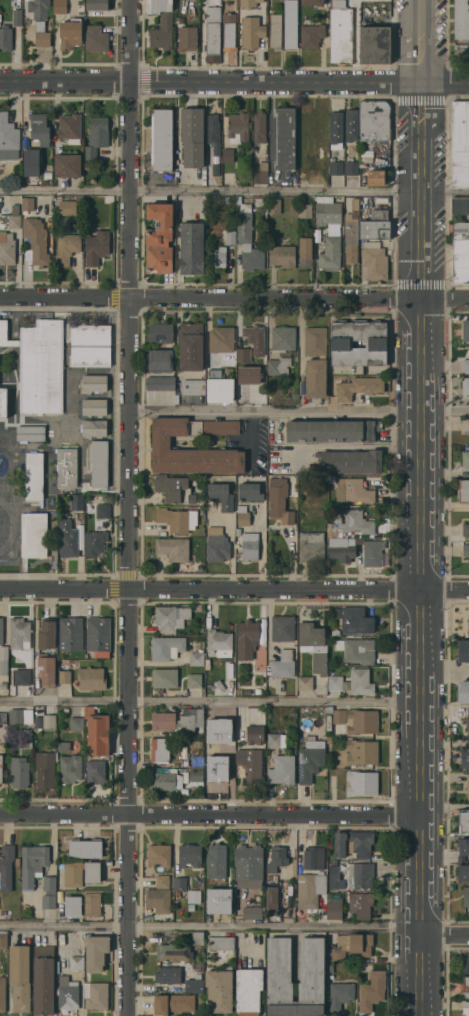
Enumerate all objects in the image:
building: (312, 2)
building: (249, 3)
building: (98, 4)
building: (60, 6)
building: (39, 9)
building: (17, 16)
building: (0, 17)
building: (461, 19)
building: (161, 23)
building: (291, 24)
building: (275, 30)
building: (230, 31)
building: (252, 31)
building: (341, 32)
building: (70, 33)
building: (213, 34)
building: (312, 35)
building: (6, 37)
building: (42, 38)
building: (96, 38)
building: (188, 38)
building: (376, 44)
building: (461, 52)
road: (234, 80)
building: (375, 120)
building: (352, 124)
building: (39, 125)
building: (260, 126)
building: (70, 127)
building: (238, 127)
building: (336, 130)
building: (7, 135)
building: (97, 135)
building: (193, 135)
road: (270, 135)
building: (285, 138)
building: (162, 139)
building: (215, 140)
building: (460, 143)
building: (228, 155)
building: (31, 161)
building: (68, 165)
building: (87, 165)
building: (337, 167)
building: (352, 167)
building: (261, 172)
building: (48, 174)
building: (376, 177)
building: (93, 180)
road: (300, 190)
road: (65, 191)
building: (261, 201)
building: (27, 204)
building: (460, 205)
building: (275, 206)
building: (68, 207)
building: (306, 210)
building: (11, 218)
building: (376, 225)
building: (160, 226)
building: (461, 230)
building: (329, 231)
building: (352, 232)
building: (248, 239)
building: (36, 241)
building: (67, 247)
building: (97, 247)
building: (192, 247)
building: (7, 248)
building: (306, 252)
building: (283, 255)
building: (216, 257)
building: (159, 260)
building: (374, 261)
building: (460, 261)
road: (234, 302)
building: (465, 330)
building: (3, 331)
road: (301, 331)
building: (161, 332)
building: (222, 338)
building: (255, 338)
building: (283, 338)
building: (13, 342)
building: (342, 343)
building: (90, 344)
building: (191, 346)
building: (244, 354)
building: (160, 360)
building: (315, 362)
building: (465, 364)
building: (279, 365)
building: (41, 366)
building: (248, 375)
building: (95, 382)
building: (161, 383)
building: (465, 385)
building: (194, 386)
building: (359, 386)
building: (219, 387)
building: (3, 401)
building: (95, 406)
road: (299, 412)
building: (465, 424)
building: (94, 427)
building: (331, 431)
building: (31, 432)
road: (252, 436)
building: (162, 441)
road: (360, 447)
building: (466, 458)
building: (351, 461)
building: (100, 463)
building: (67, 467)
building: (35, 475)
building: (175, 488)
building: (354, 490)
building: (463, 490)
building: (250, 491)
building: (221, 495)
building: (280, 500)
building: (76, 501)
road: (445, 504)
road: (131, 507)
road: (421, 507)
building: (103, 510)
building: (243, 515)
building: (178, 519)
building: (302, 521)
building: (351, 525)
building: (466, 529)
building: (238, 531)
building: (34, 534)
building: (70, 538)
building: (95, 542)
building: (217, 544)
building: (250, 546)
building: (311, 546)
building: (173, 547)
building: (466, 549)
building: (342, 554)
road: (234, 589)
building: (171, 617)
building: (354, 619)
building: (210, 620)
building: (468, 625)
building: (283, 628)
building: (1, 630)
building: (20, 633)
building: (47, 633)
building: (71, 633)
building: (99, 633)
building: (247, 638)
building: (219, 640)
building: (314, 645)
building: (167, 647)
building: (357, 649)
building: (463, 650)
building: (197, 657)
building: (3, 659)
building: (284, 664)
building: (47, 669)
building: (199, 669)
road: (445, 671)
building: (23, 676)
building: (65, 676)
building: (165, 677)
building: (92, 678)
building: (195, 680)
building: (361, 681)
building: (336, 682)
building: (305, 683)
building: (4, 684)
building: (258, 690)
building: (239, 691)
building: (463, 691)
road: (210, 703)
building: (329, 709)
building: (20, 715)
building: (340, 716)
building: (3, 717)
building: (178, 719)
building: (50, 720)
building: (39, 721)
building: (362, 721)
building: (468, 721)
building: (77, 722)
building: (219, 730)
building: (98, 732)
building: (256, 734)
building: (25, 738)
building: (277, 739)
building: (329, 739)
building: (198, 743)
building: (64, 745)
building: (160, 749)
building: (362, 751)
building: (216, 756)
building: (465, 757)
building: (311, 759)
building: (198, 760)
building: (252, 763)
building: (1, 767)
building: (46, 768)
building: (70, 768)
building: (282, 769)
building: (20, 771)
building: (96, 771)
building: (196, 776)
building: (166, 780)
building: (362, 782)
building: (467, 788)
road: (210, 813)
building: (464, 821)
building: (354, 843)
building: (85, 848)
building: (463, 850)
building: (160, 854)
building: (190, 854)
building: (314, 857)
building: (277, 858)
building: (17, 860)
building: (217, 862)
building: (33, 864)
building: (249, 865)
building: (6, 866)
building: (93, 872)
building: (463, 872)
building: (74, 873)
building: (360, 875)
building: (268, 876)
building: (335, 876)
building: (163, 880)
building: (180, 883)
building: (310, 889)
building: (49, 892)
building: (177, 894)
building: (466, 895)
building: (194, 897)
building: (272, 898)
building: (159, 899)
building: (83, 904)
building: (361, 904)
building: (225, 909)
building: (334, 909)
building: (252, 912)
road: (211, 928)
road: (445, 936)
building: (198, 937)
building: (3, 939)
building: (221, 943)
building: (352, 945)
building: (96, 951)
building: (174, 952)
building: (312, 959)
building: (77, 962)
building: (370, 965)
building: (465, 965)
building: (168, 974)
building: (20, 977)
building: (43, 979)
building: (195, 985)
building: (466, 986)
building: (220, 989)
building: (372, 990)
building: (249, 991)
building: (2, 993)
building: (67, 993)
building: (96, 994)
building: (340, 995)
building: (173, 1003)
building: (466, 1007)

